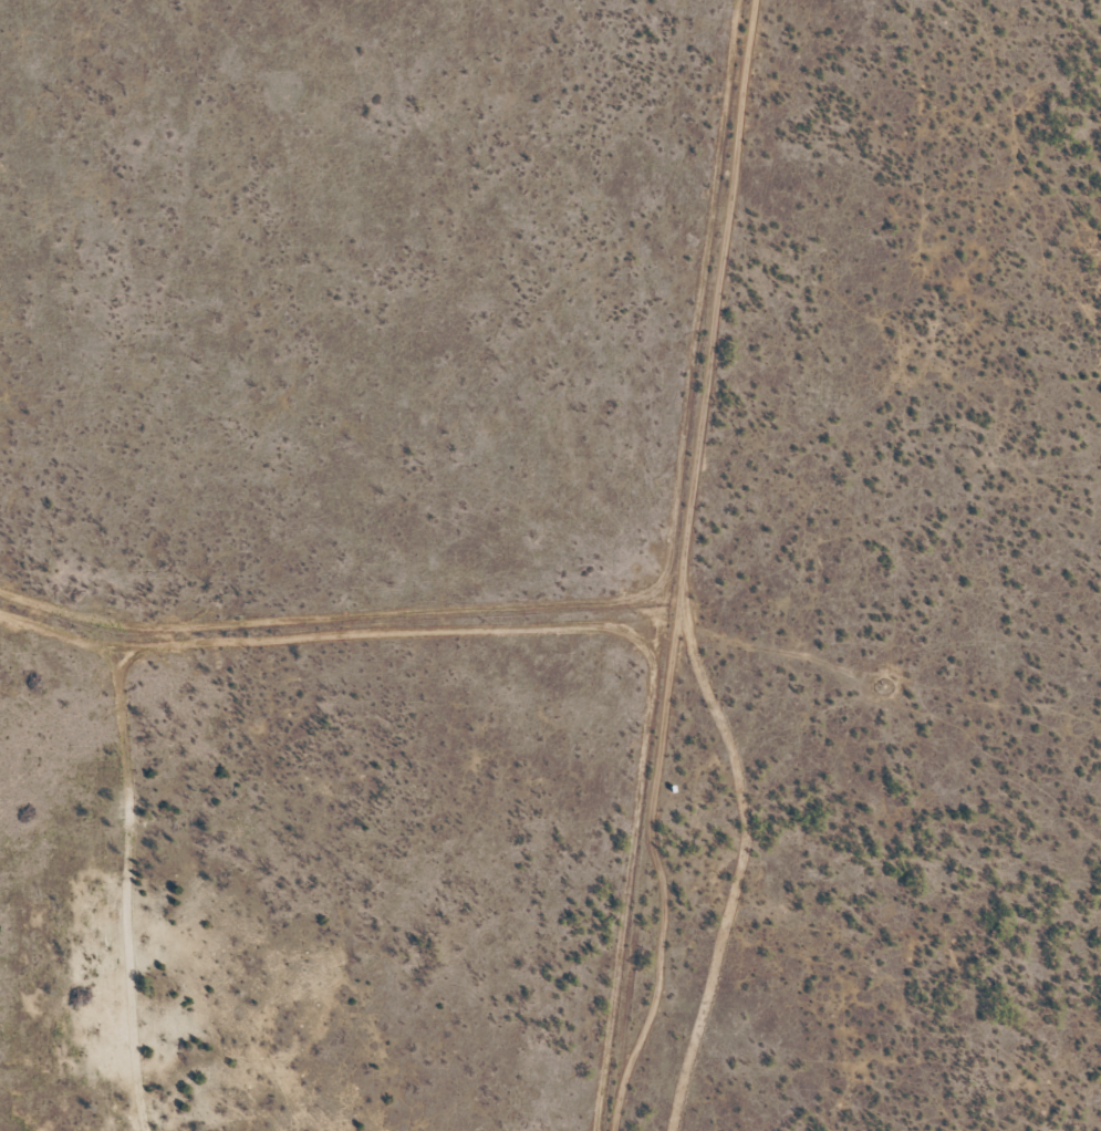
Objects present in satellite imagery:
road: (648, 565)

